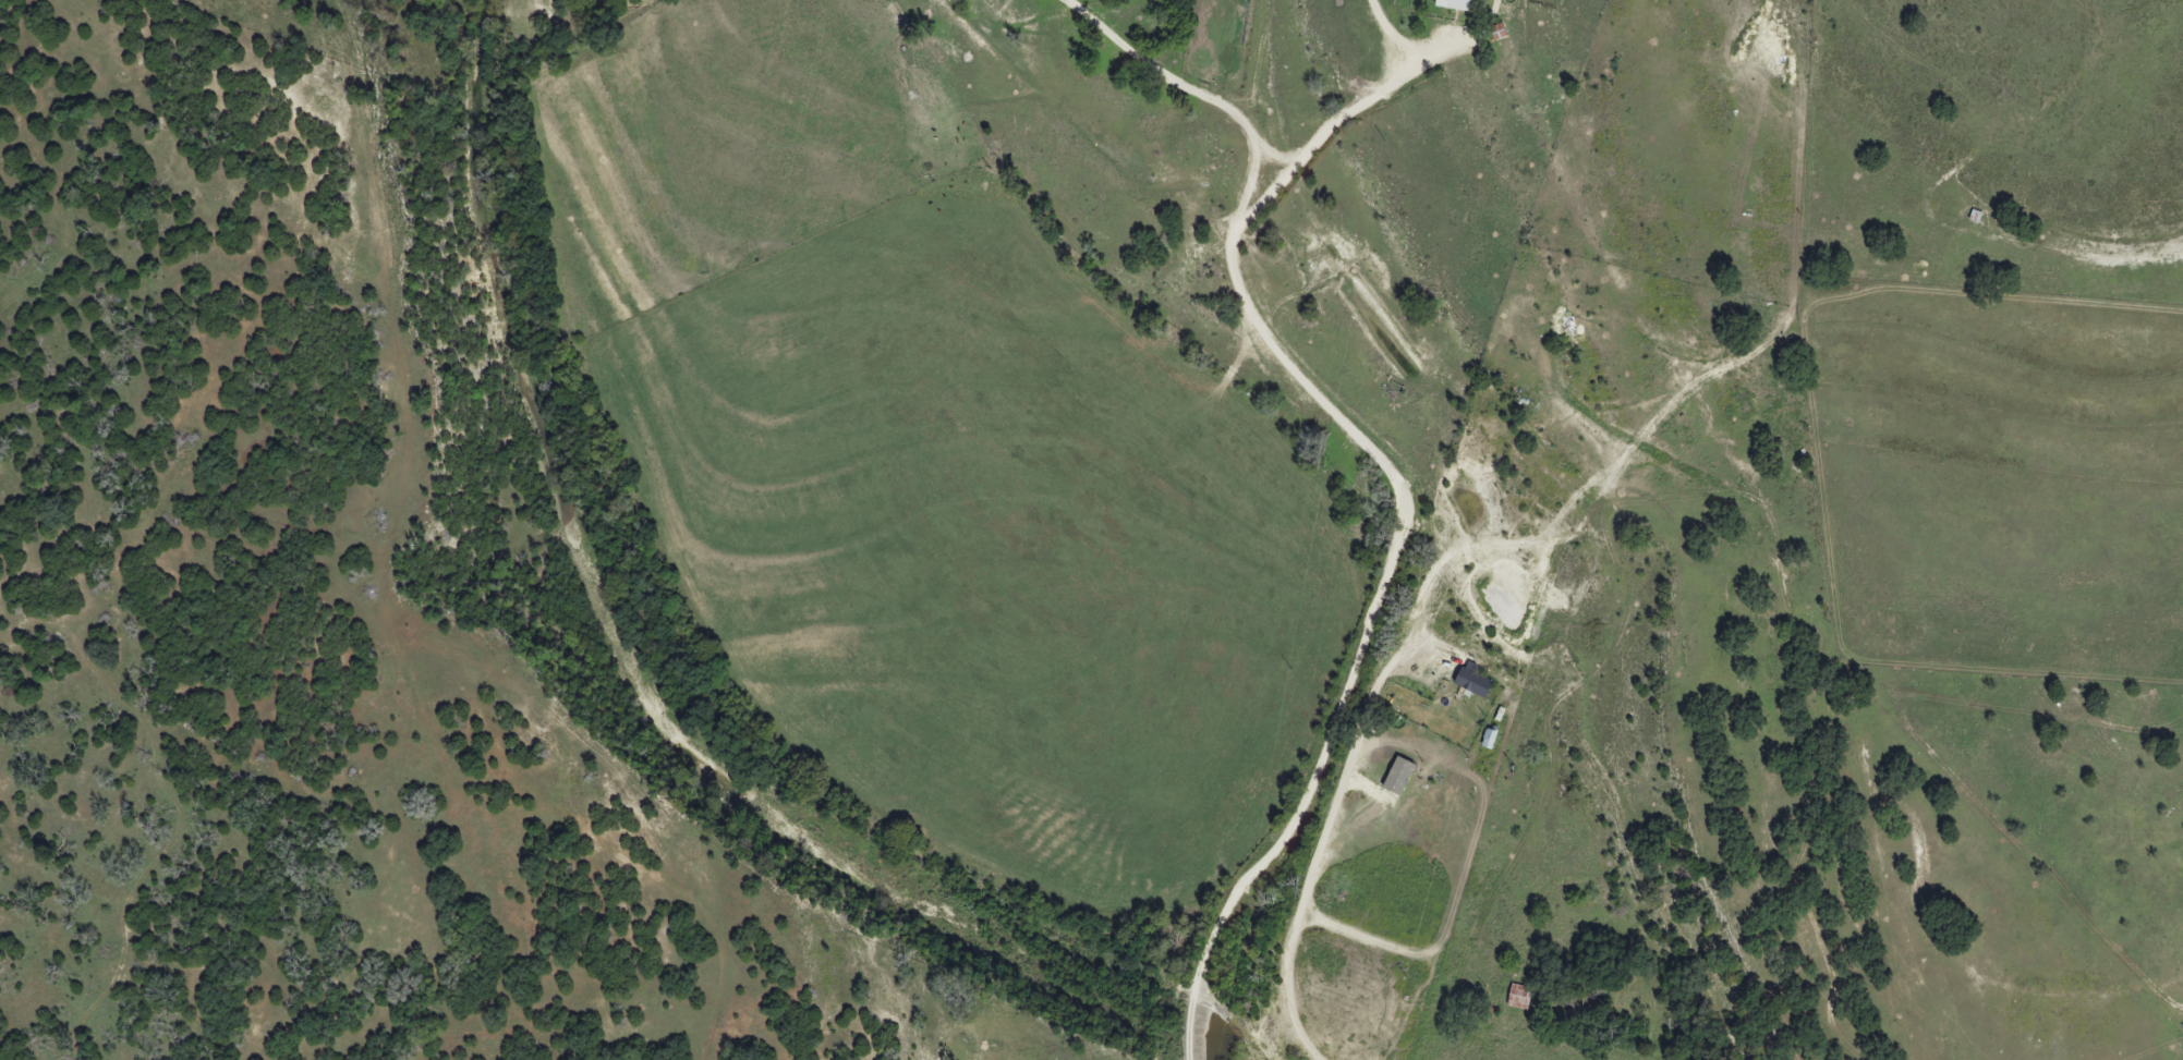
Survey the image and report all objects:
building: (1454, 4)
road: (1387, 44)
road: (1406, 45)
road: (1339, 122)
road: (1276, 158)
road: (1393, 480)
building: (1475, 682)
building: (1390, 769)
road: (1319, 849)
building: (1516, 997)

